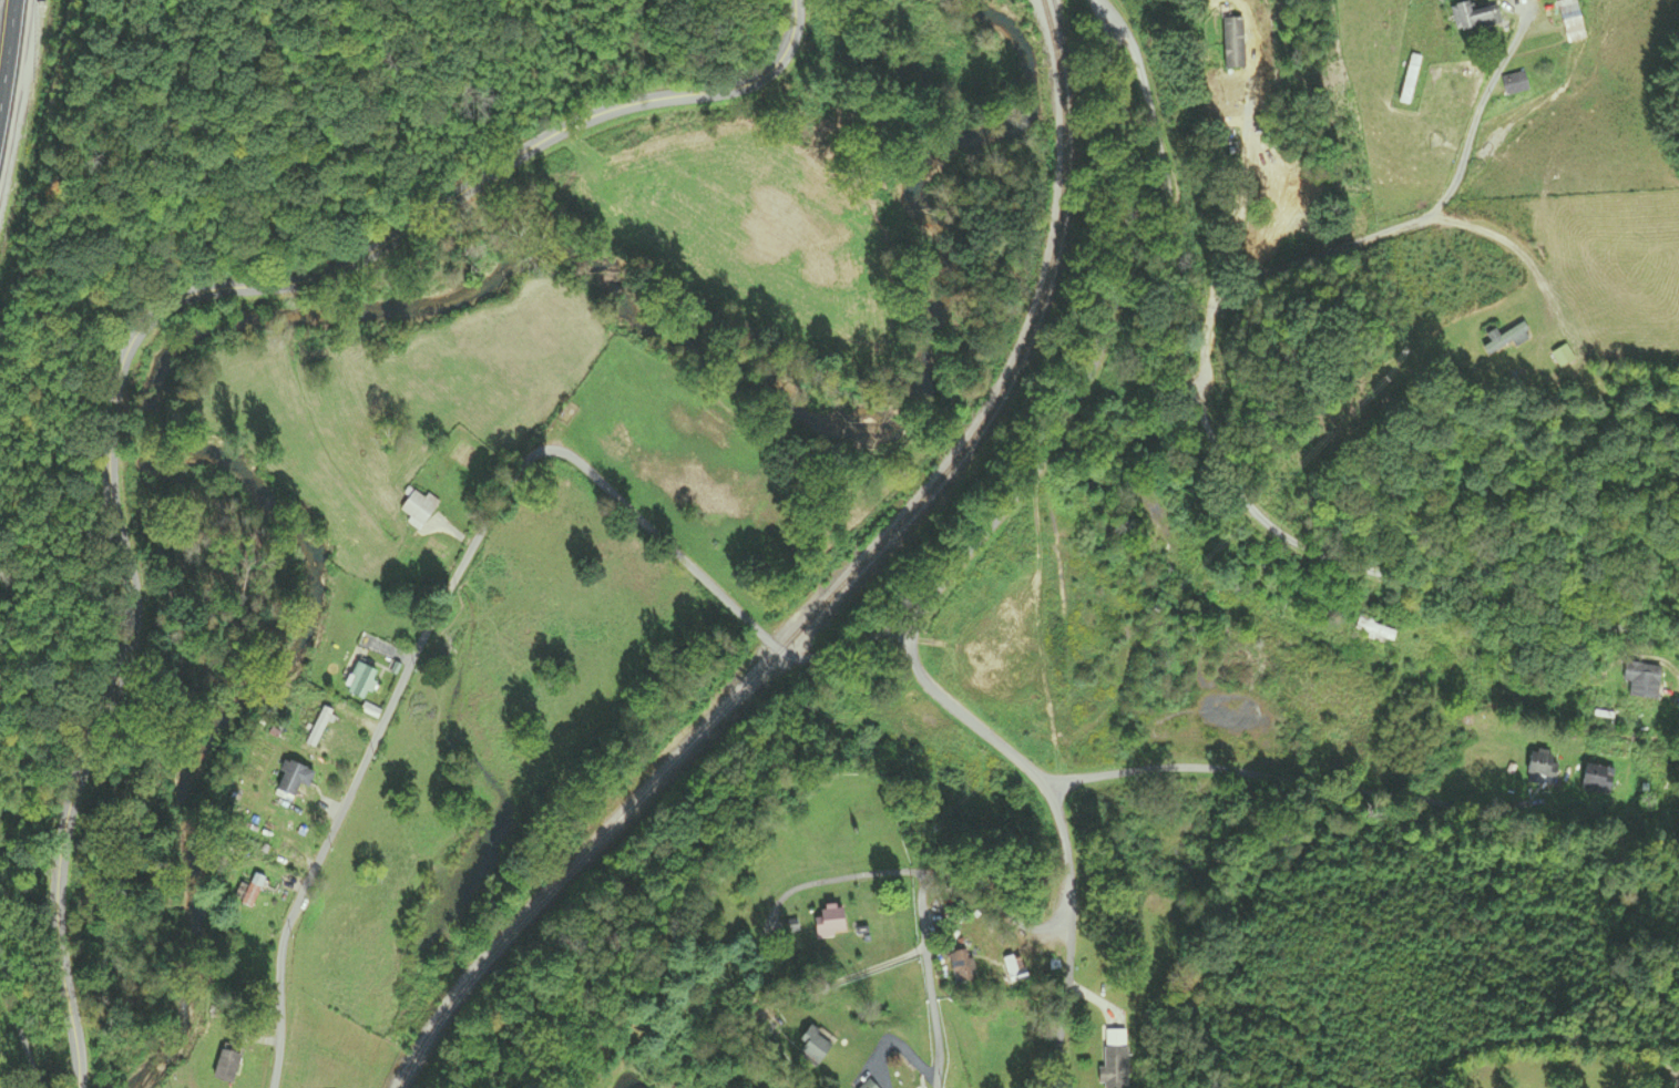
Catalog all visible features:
building: (1473, 16)
building: (1570, 20)
road: (8, 58)
building: (1409, 78)
building: (1514, 83)
road: (495, 166)
road: (1166, 182)
road: (1374, 235)
river: (362, 304)
building: (1505, 339)
road: (1100, 352)
building: (1563, 357)
building: (418, 506)
road: (653, 533)
road: (1384, 577)
railway: (838, 589)
building: (1216, 597)
building: (1374, 628)
road: (843, 654)
road: (1673, 674)
building: (1642, 680)
building: (360, 681)
road: (103, 691)
building: (317, 728)
building: (1540, 766)
road: (364, 768)
building: (289, 779)
building: (1597, 780)
road: (1362, 798)
road: (1061, 839)
road: (1678, 843)
road: (836, 879)
building: (253, 891)
road: (917, 897)
building: (829, 920)
building: (1012, 964)
road: (802, 991)
building: (811, 1045)
road: (894, 1046)
road: (1547, 1047)
road: (14, 1055)
building: (226, 1067)
building: (1115, 1067)
building: (867, 1085)

